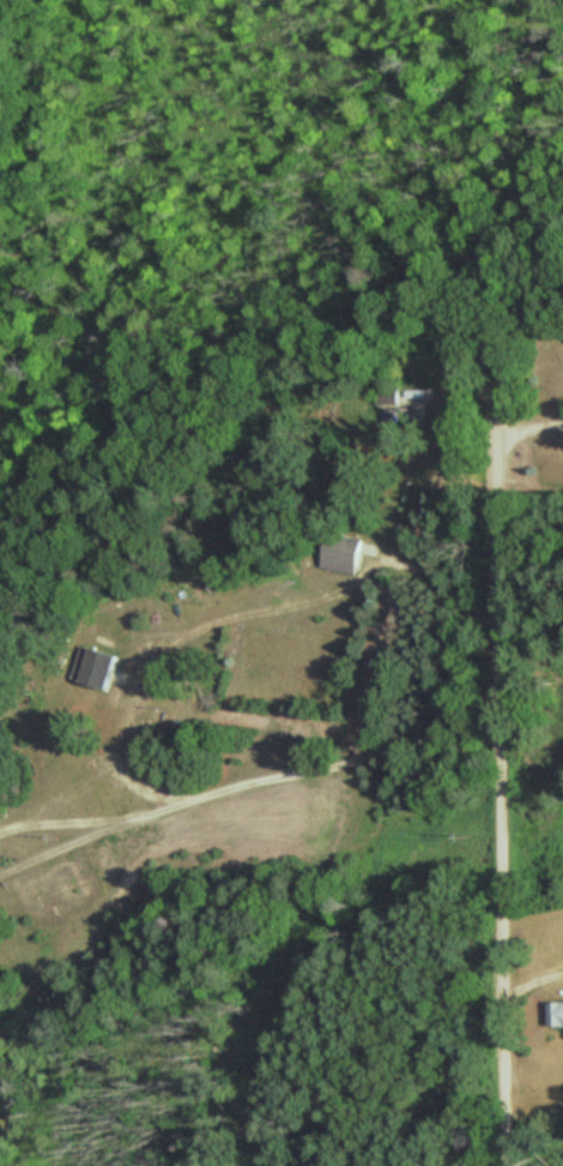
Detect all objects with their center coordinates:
building: (394, 419)
building: (341, 553)
road: (496, 582)
building: (95, 667)
building: (555, 1014)

